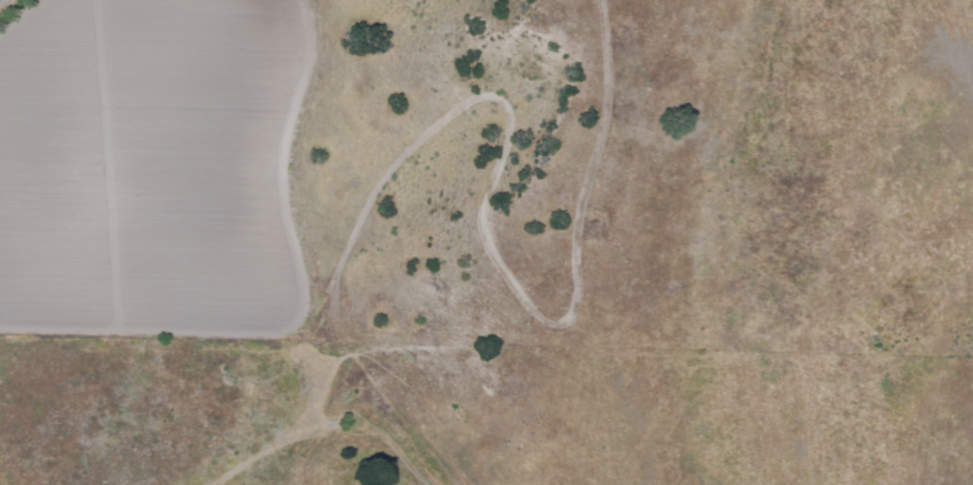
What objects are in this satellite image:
crop: (153, 165)
road: (288, 197)
road: (333, 393)

